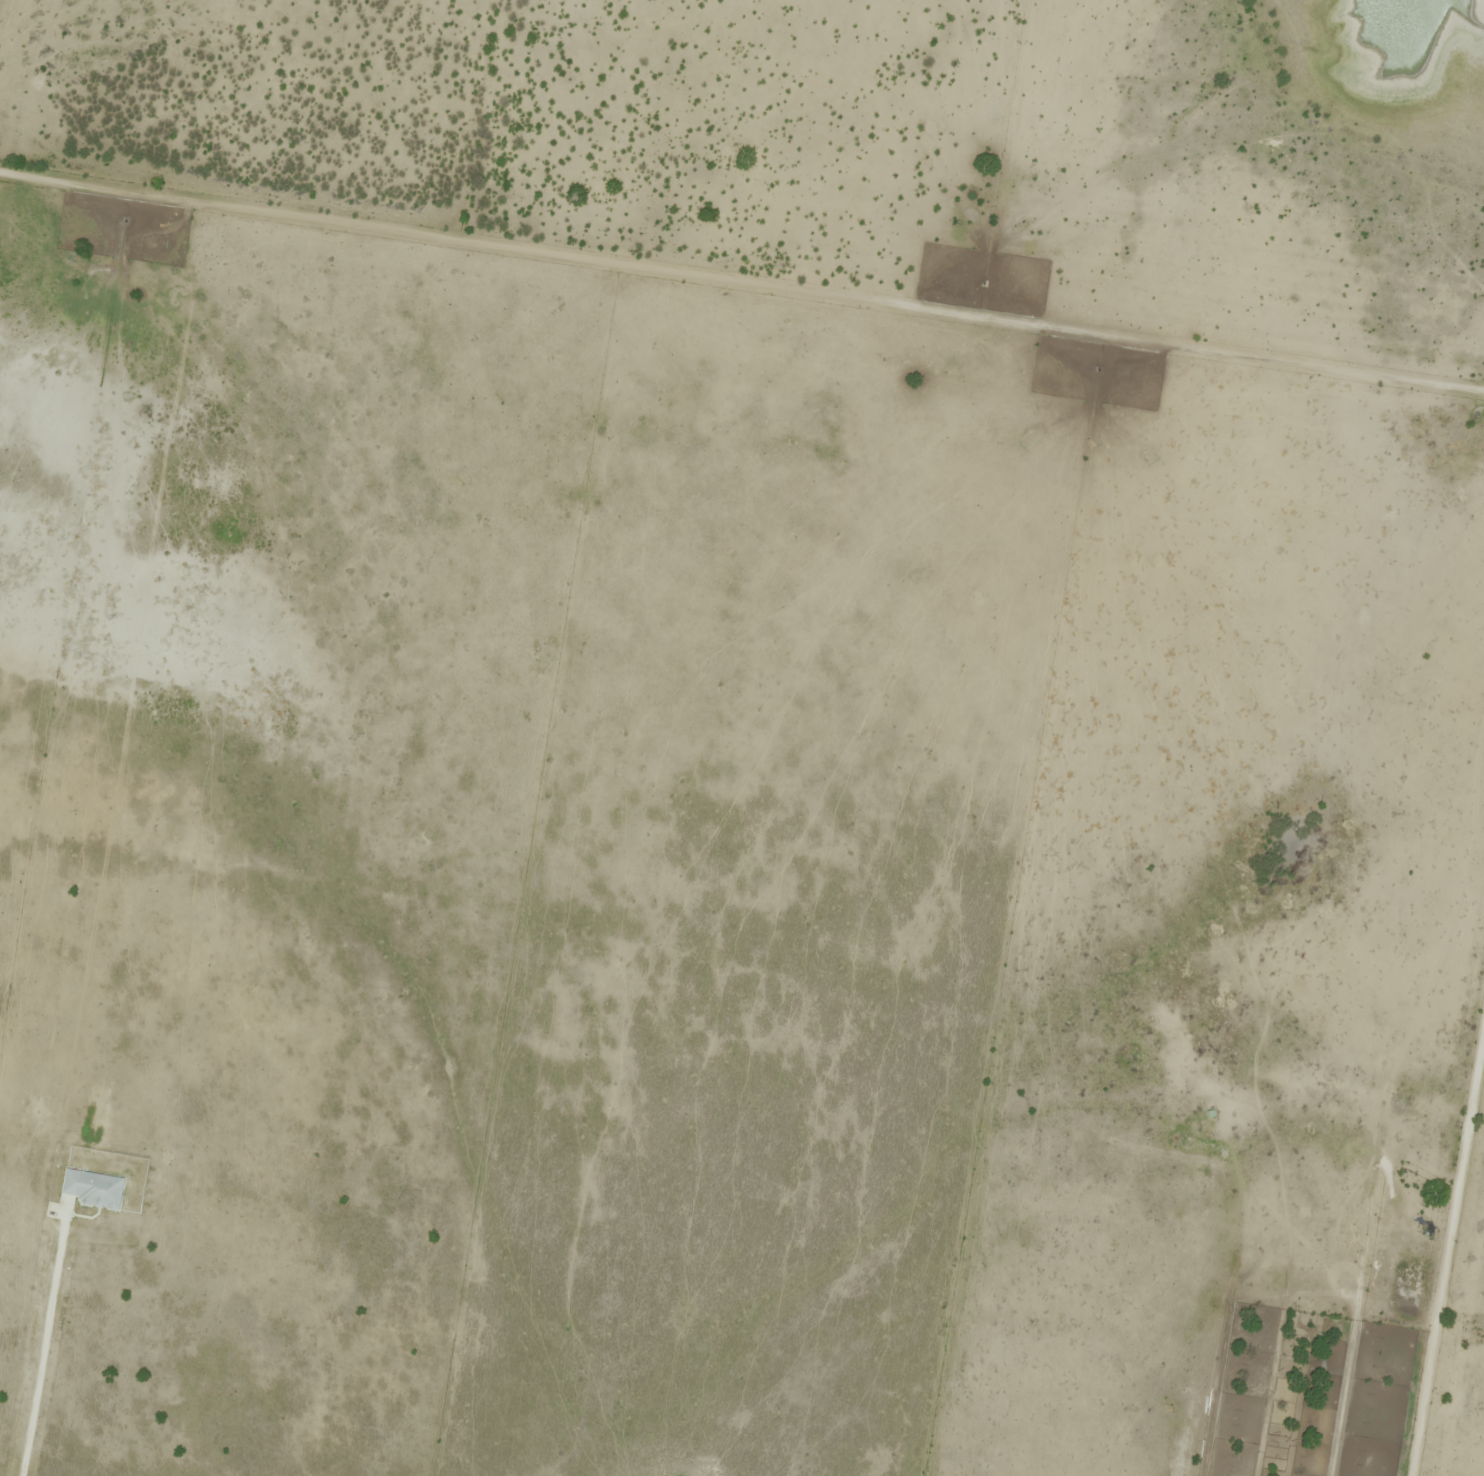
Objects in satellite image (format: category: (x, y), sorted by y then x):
road: (1447, 1256)

